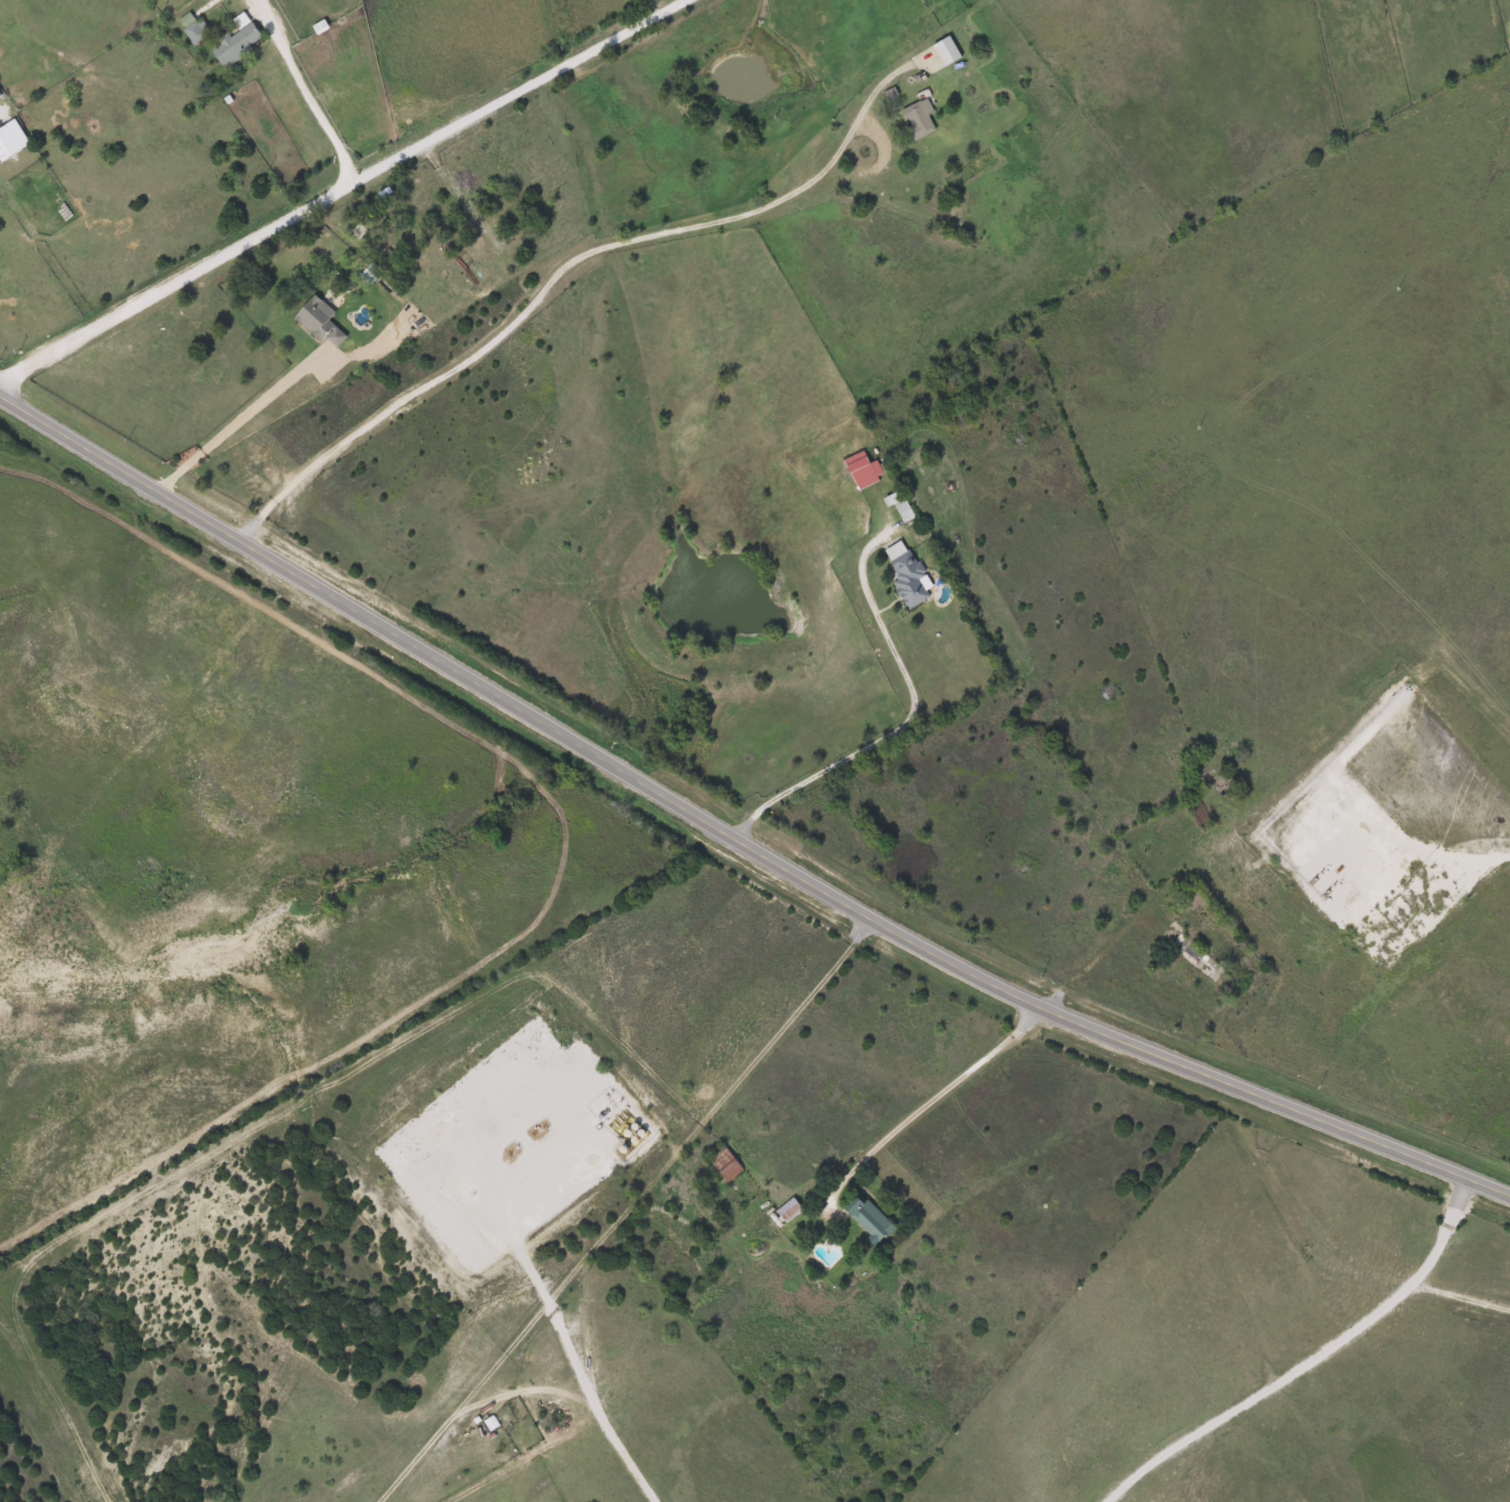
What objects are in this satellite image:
building: (192, 29)
building: (236, 42)
building: (944, 52)
road: (302, 91)
building: (917, 119)
building: (10, 140)
road: (825, 157)
road: (338, 190)
building: (318, 322)
road: (490, 340)
road: (230, 424)
building: (861, 471)
building: (904, 571)
road: (909, 719)
road: (733, 846)
road: (1486, 857)
building: (1200, 961)
road: (693, 1140)
building: (724, 1165)
road: (835, 1183)
road: (1457, 1203)
building: (788, 1211)
building: (866, 1219)
road: (571, 1353)
road: (1287, 1373)
road: (531, 1393)

